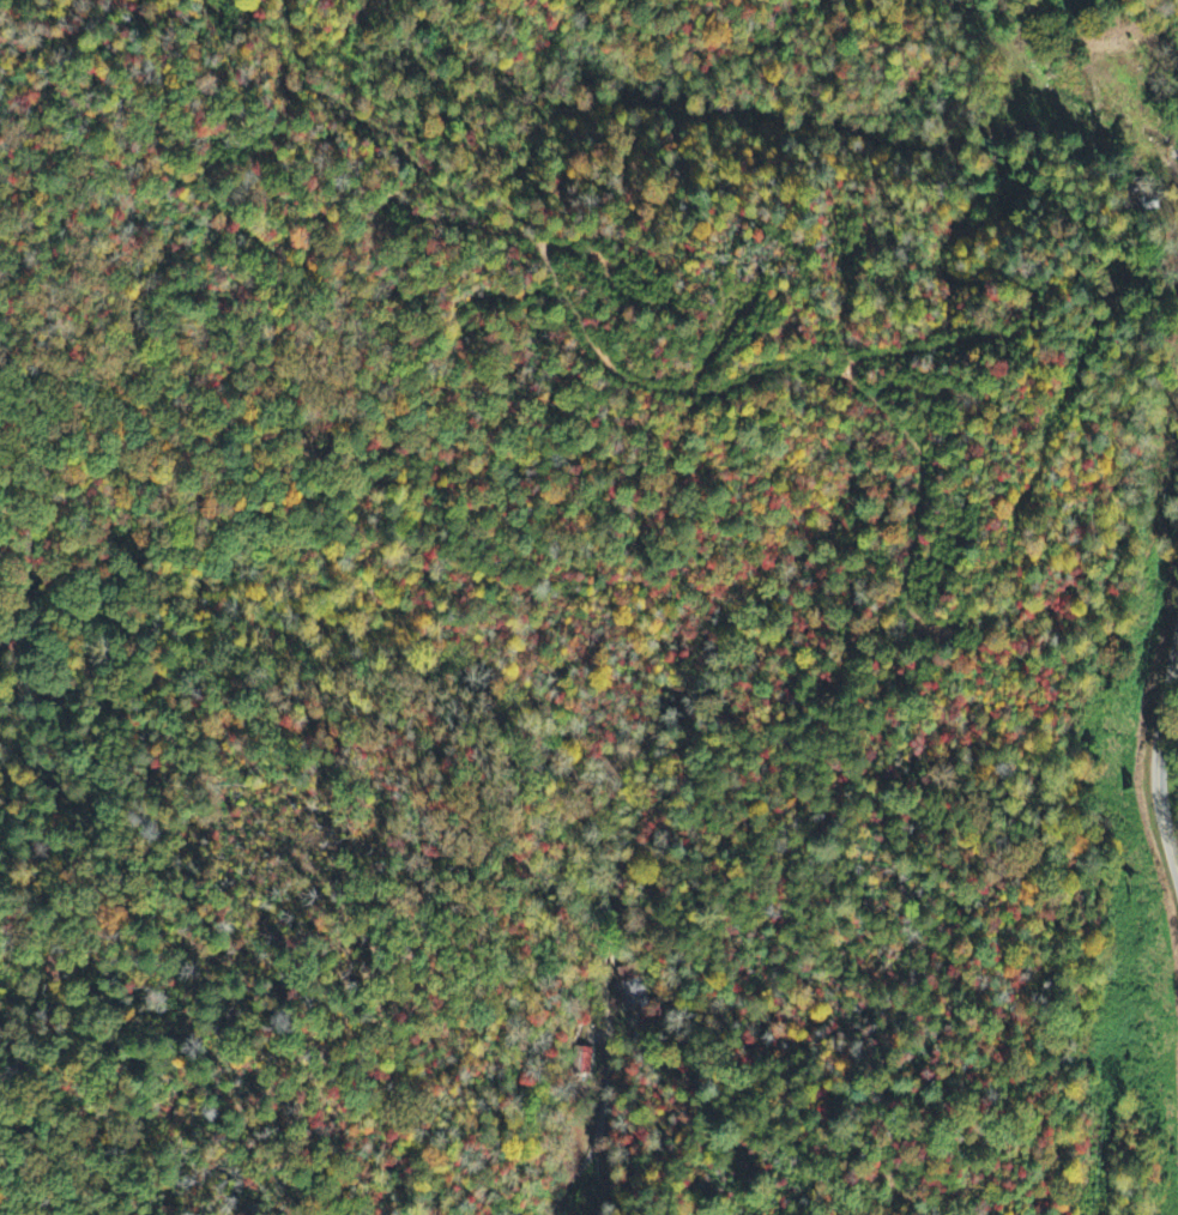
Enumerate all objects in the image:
road: (1156, 756)
building: (632, 986)
road: (600, 1080)

